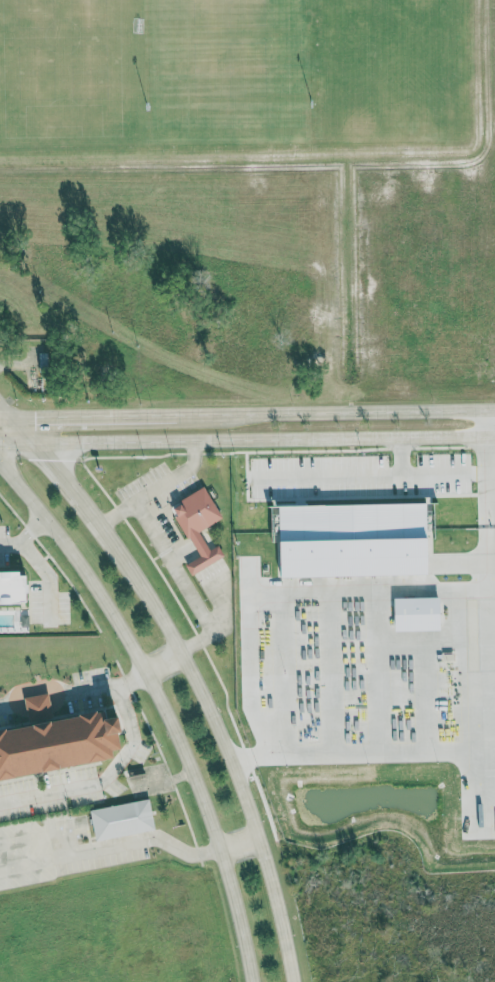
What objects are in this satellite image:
road: (247, 414)
traffic signals: (36, 418)
road: (247, 440)
traffic signals: (45, 458)
road: (333, 479)
road: (431, 480)
road: (154, 489)
building: (200, 527)
road: (25, 536)
road: (46, 575)
road: (182, 581)
building: (15, 587)
road: (162, 663)
road: (189, 672)
road: (131, 678)
road: (57, 689)
building: (40, 705)
road: (160, 706)
building: (60, 745)
road: (365, 759)
road: (104, 779)
building: (124, 819)
road: (170, 843)
road: (79, 849)

